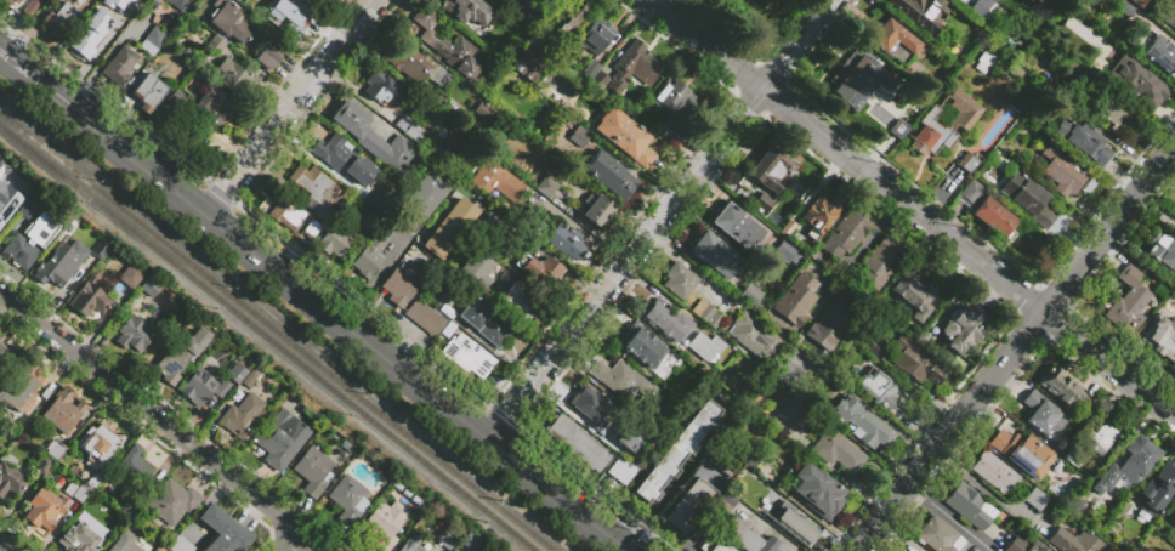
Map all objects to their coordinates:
building: (761, 0)
building: (998, 0)
building: (1174, 0)
building: (11, 1)
building: (1137, 2)
building: (113, 4)
building: (177, 4)
building: (958, 4)
building: (978, 5)
building: (30, 7)
building: (1124, 7)
building: (131, 11)
building: (920, 11)
building: (471, 13)
building: (1170, 17)
building: (59, 18)
building: (285, 18)
building: (227, 21)
building: (571, 27)
building: (90, 34)
building: (592, 38)
building: (892, 38)
building: (152, 40)
building: (215, 45)
building: (448, 46)
building: (1154, 51)
building: (268, 55)
building: (532, 55)
building: (952, 55)
road: (103, 59)
building: (983, 62)
building: (416, 67)
building: (121, 68)
building: (632, 68)
building: (590, 69)
building: (1016, 74)
building: (234, 78)
building: (600, 80)
building: (861, 80)
building: (932, 84)
building: (1143, 86)
road: (351, 89)
building: (381, 89)
building: (148, 92)
building: (176, 98)
building: (676, 98)
road: (101, 100)
building: (435, 101)
road: (70, 107)
road: (291, 107)
building: (212, 108)
building: (1107, 109)
building: (487, 118)
building: (959, 123)
building: (895, 124)
building: (409, 127)
building: (665, 130)
building: (856, 130)
building: (625, 136)
building: (577, 137)
building: (374, 140)
building: (448, 143)
building: (1084, 143)
building: (345, 160)
building: (967, 163)
building: (771, 169)
building: (1062, 172)
building: (611, 176)
building: (496, 183)
building: (545, 186)
building: (1088, 187)
building: (312, 188)
road: (220, 193)
building: (970, 193)
building: (426, 198)
building: (6, 200)
building: (381, 200)
building: (1029, 200)
building: (761, 204)
road: (912, 208)
building: (25, 209)
building: (598, 210)
building: (821, 211)
building: (285, 212)
building: (994, 218)
road: (659, 220)
building: (368, 221)
building: (1, 223)
building: (737, 226)
building: (312, 228)
building: (452, 228)
building: (494, 233)
building: (845, 235)
building: (29, 240)
building: (334, 242)
building: (567, 242)
road: (865, 243)
building: (98, 250)
building: (784, 250)
building: (1162, 251)
building: (370, 255)
building: (714, 255)
building: (880, 263)
road: (686, 265)
building: (53, 266)
building: (478, 269)
building: (540, 271)
building: (130, 275)
road: (370, 279)
building: (679, 280)
building: (402, 284)
building: (149, 285)
building: (906, 294)
building: (435, 295)
building: (750, 295)
building: (940, 296)
building: (797, 297)
building: (1129, 299)
building: (91, 301)
road: (362, 305)
building: (515, 305)
building: (706, 313)
building: (187, 318)
building: (424, 318)
building: (663, 318)
building: (487, 323)
building: (827, 329)
building: (961, 329)
railway: (276, 331)
building: (132, 334)
building: (751, 334)
railway: (267, 337)
building: (1159, 339)
building: (705, 346)
road: (1015, 346)
building: (642, 347)
building: (875, 348)
building: (4, 356)
building: (467, 356)
building: (180, 357)
road: (384, 357)
building: (913, 362)
building: (235, 373)
building: (788, 376)
building: (249, 377)
building: (617, 377)
building: (201, 387)
building: (1061, 387)
building: (21, 388)
building: (880, 392)
road: (863, 404)
building: (1090, 407)
building: (795, 408)
building: (62, 411)
building: (596, 411)
road: (568, 413)
road: (501, 415)
building: (1043, 415)
building: (242, 416)
road: (161, 422)
building: (19, 424)
building: (862, 425)
building: (1102, 433)
building: (7, 439)
building: (632, 441)
building: (577, 442)
building: (96, 444)
building: (278, 444)
building: (774, 445)
building: (55, 450)
building: (676, 451)
building: (838, 451)
building: (1021, 453)
building: (750, 456)
building: (1073, 458)
building: (1128, 465)
building: (41, 466)
building: (311, 468)
building: (132, 470)
building: (621, 471)
road: (572, 472)
building: (994, 473)
road: (675, 479)
building: (10, 481)
building: (92, 481)
road: (977, 484)
building: (1082, 484)
building: (816, 490)
building: (1157, 490)
building: (75, 492)
building: (1092, 495)
building: (348, 499)
building: (1034, 499)
building: (171, 501)
building: (691, 505)
building: (969, 506)
building: (1119, 507)
building: (44, 509)
building: (129, 509)
road: (948, 516)
building: (1174, 517)
building: (112, 521)
building: (386, 523)
building: (790, 523)
road: (640, 526)
building: (739, 527)
building: (222, 530)
building: (937, 535)
building: (76, 538)
building: (445, 539)
building: (470, 541)
building: (1074, 541)
building: (124, 543)
building: (177, 543)
building: (411, 543)
road: (660, 543)
road: (297, 544)
road: (6, 545)
building: (713, 545)
building: (1023, 545)
building: (904, 550)

